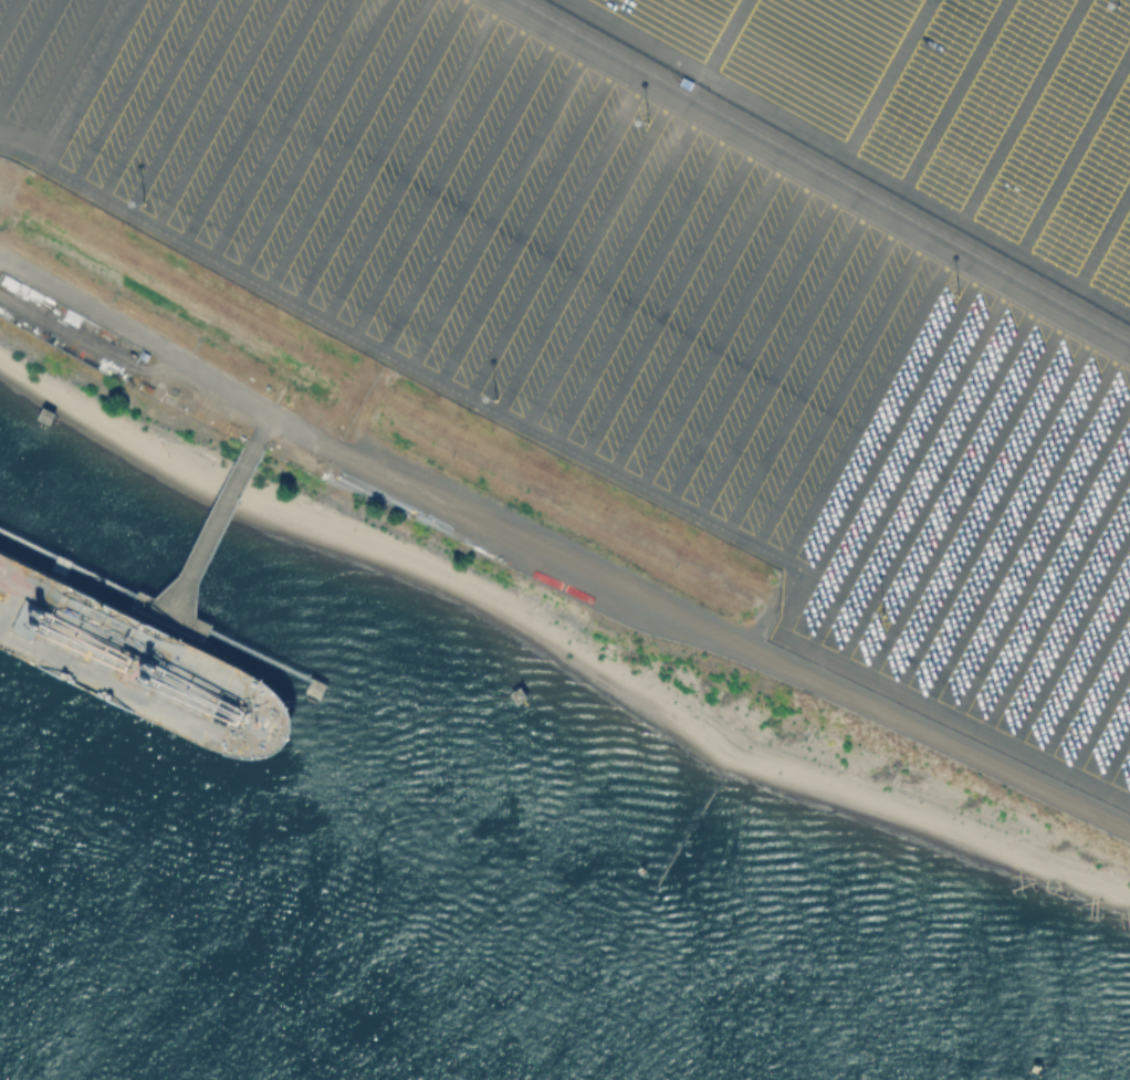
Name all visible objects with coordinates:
road: (723, 38)
road: (694, 90)
road: (849, 156)
road: (810, 172)
road: (609, 448)
pier: (213, 532)
pier: (198, 558)
road: (556, 563)
pier: (163, 611)

